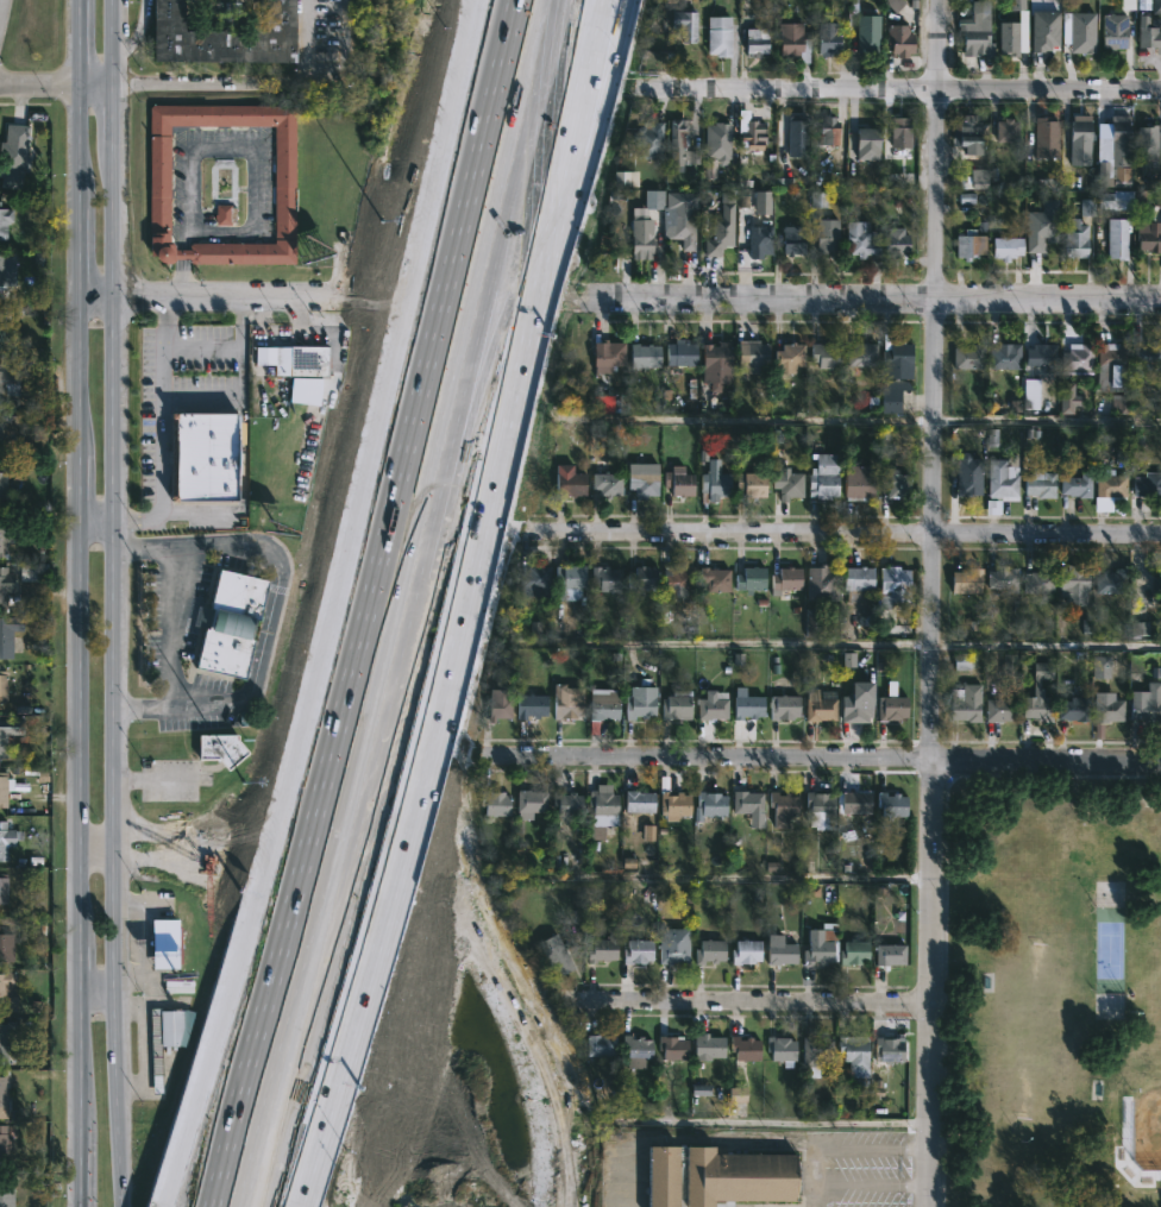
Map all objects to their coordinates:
building: (1128, 5)
building: (1155, 6)
road: (470, 12)
building: (325, 21)
building: (684, 24)
building: (1043, 30)
building: (1080, 31)
building: (1113, 31)
building: (1149, 33)
building: (718, 34)
building: (867, 34)
building: (977, 34)
building: (1012, 34)
building: (219, 36)
building: (829, 38)
building: (754, 40)
building: (792, 42)
road: (113, 43)
building: (900, 44)
road: (307, 61)
road: (56, 82)
road: (188, 86)
road: (899, 89)
road: (113, 113)
building: (796, 130)
building: (828, 131)
building: (1005, 131)
building: (749, 132)
building: (899, 132)
building: (967, 132)
building: (1080, 136)
building: (1044, 138)
building: (1146, 140)
building: (648, 142)
building: (678, 143)
building: (866, 143)
road: (566, 146)
road: (577, 146)
building: (1118, 156)
building: (15, 158)
building: (158, 178)
building: (1117, 200)
building: (763, 203)
building: (676, 218)
building: (5, 219)
building: (826, 231)
building: (717, 235)
building: (641, 237)
building: (1148, 237)
building: (860, 239)
building: (1074, 239)
building: (1116, 239)
building: (790, 240)
building: (757, 241)
building: (895, 241)
building: (968, 245)
building: (1005, 247)
building: (2, 269)
road: (876, 296)
road: (207, 298)
building: (5, 327)
road: (225, 348)
building: (679, 354)
building: (1042, 354)
building: (605, 356)
building: (716, 356)
building: (749, 356)
building: (789, 356)
building: (824, 356)
building: (860, 356)
building: (642, 357)
building: (1005, 357)
building: (1075, 357)
building: (968, 358)
building: (1146, 359)
building: (306, 362)
building: (1112, 366)
building: (895, 375)
building: (6, 377)
road: (1048, 420)
road: (164, 427)
building: (7, 428)
road: (84, 429)
building: (201, 455)
building: (822, 477)
building: (641, 479)
building: (567, 482)
road: (488, 483)
building: (677, 483)
building: (858, 483)
building: (607, 484)
building: (749, 484)
building: (787, 484)
building: (896, 484)
building: (713, 485)
building: (1002, 485)
building: (1040, 485)
building: (1075, 485)
building: (1110, 485)
building: (1148, 485)
building: (2, 486)
road: (117, 486)
road: (101, 524)
road: (849, 533)
building: (2, 538)
road: (192, 545)
building: (859, 577)
building: (533, 578)
building: (641, 579)
building: (678, 579)
building: (714, 579)
building: (749, 579)
building: (1000, 579)
building: (566, 580)
building: (785, 580)
building: (965, 582)
building: (1112, 582)
building: (604, 583)
building: (1036, 583)
building: (821, 584)
building: (1074, 584)
building: (896, 585)
building: (4, 586)
building: (1156, 586)
road: (335, 591)
road: (397, 603)
road: (933, 603)
building: (226, 625)
road: (266, 625)
building: (6, 643)
road: (174, 654)
building: (2, 687)
building: (565, 700)
building: (639, 700)
road: (207, 702)
building: (500, 702)
building: (674, 704)
building: (965, 704)
building: (528, 705)
building: (601, 705)
building: (711, 705)
building: (746, 705)
building: (854, 705)
building: (1148, 705)
building: (783, 706)
building: (1037, 706)
building: (1074, 706)
building: (818, 708)
building: (889, 710)
building: (999, 710)
building: (1107, 711)
building: (1, 742)
building: (218, 747)
road: (823, 757)
road: (155, 780)
building: (4, 786)
building: (638, 800)
building: (494, 801)
building: (746, 801)
building: (853, 801)
building: (565, 803)
building: (673, 803)
building: (529, 804)
building: (890, 804)
building: (604, 805)
building: (708, 806)
building: (782, 806)
building: (822, 809)
road: (99, 832)
building: (6, 838)
building: (1, 888)
road: (372, 938)
building: (165, 941)
building: (5, 943)
building: (672, 943)
building: (820, 944)
building: (602, 947)
building: (636, 950)
building: (745, 950)
building: (778, 950)
park: (1107, 950)
building: (708, 951)
building: (853, 951)
building: (889, 954)
building: (553, 955)
building: (7, 985)
road: (130, 989)
road: (100, 991)
road: (143, 991)
park: (1055, 994)
park: (1056, 994)
road: (747, 1002)
road: (118, 1019)
road: (81, 1032)
building: (165, 1037)
building: (6, 1043)
building: (598, 1045)
building: (671, 1046)
building: (707, 1046)
building: (779, 1048)
park: (1144, 1048)
building: (743, 1049)
building: (887, 1049)
building: (635, 1050)
building: (814, 1054)
building: (854, 1058)
building: (2, 1090)
road: (674, 1139)
road: (868, 1142)
building: (4, 1143)
parking lot: (854, 1170)
building: (714, 1176)
road: (847, 1182)
road: (174, 1193)
road: (809, 1194)
building: (6, 1197)
road: (296, 1203)

